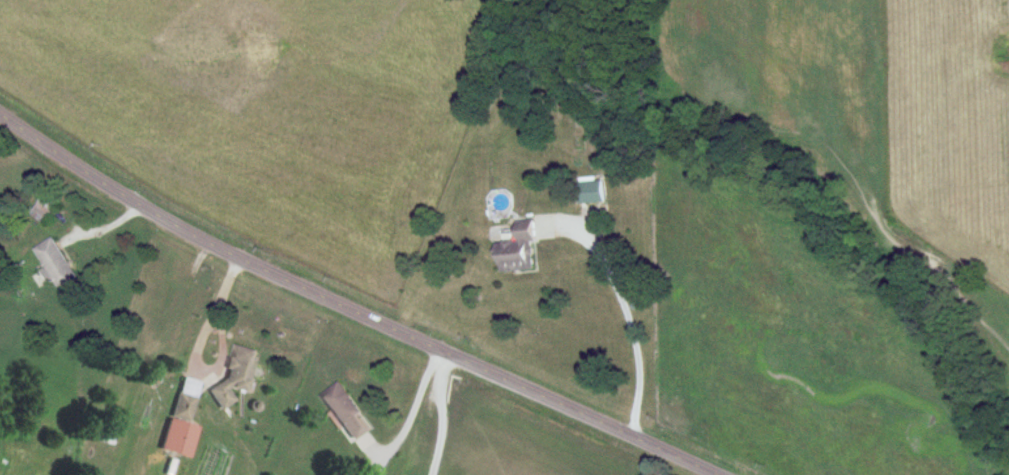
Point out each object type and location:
building: (590, 191)
building: (43, 209)
building: (516, 249)
building: (56, 264)
road: (349, 309)
building: (234, 374)
building: (184, 399)
building: (343, 411)
road: (441, 413)
building: (107, 431)
building: (175, 439)

